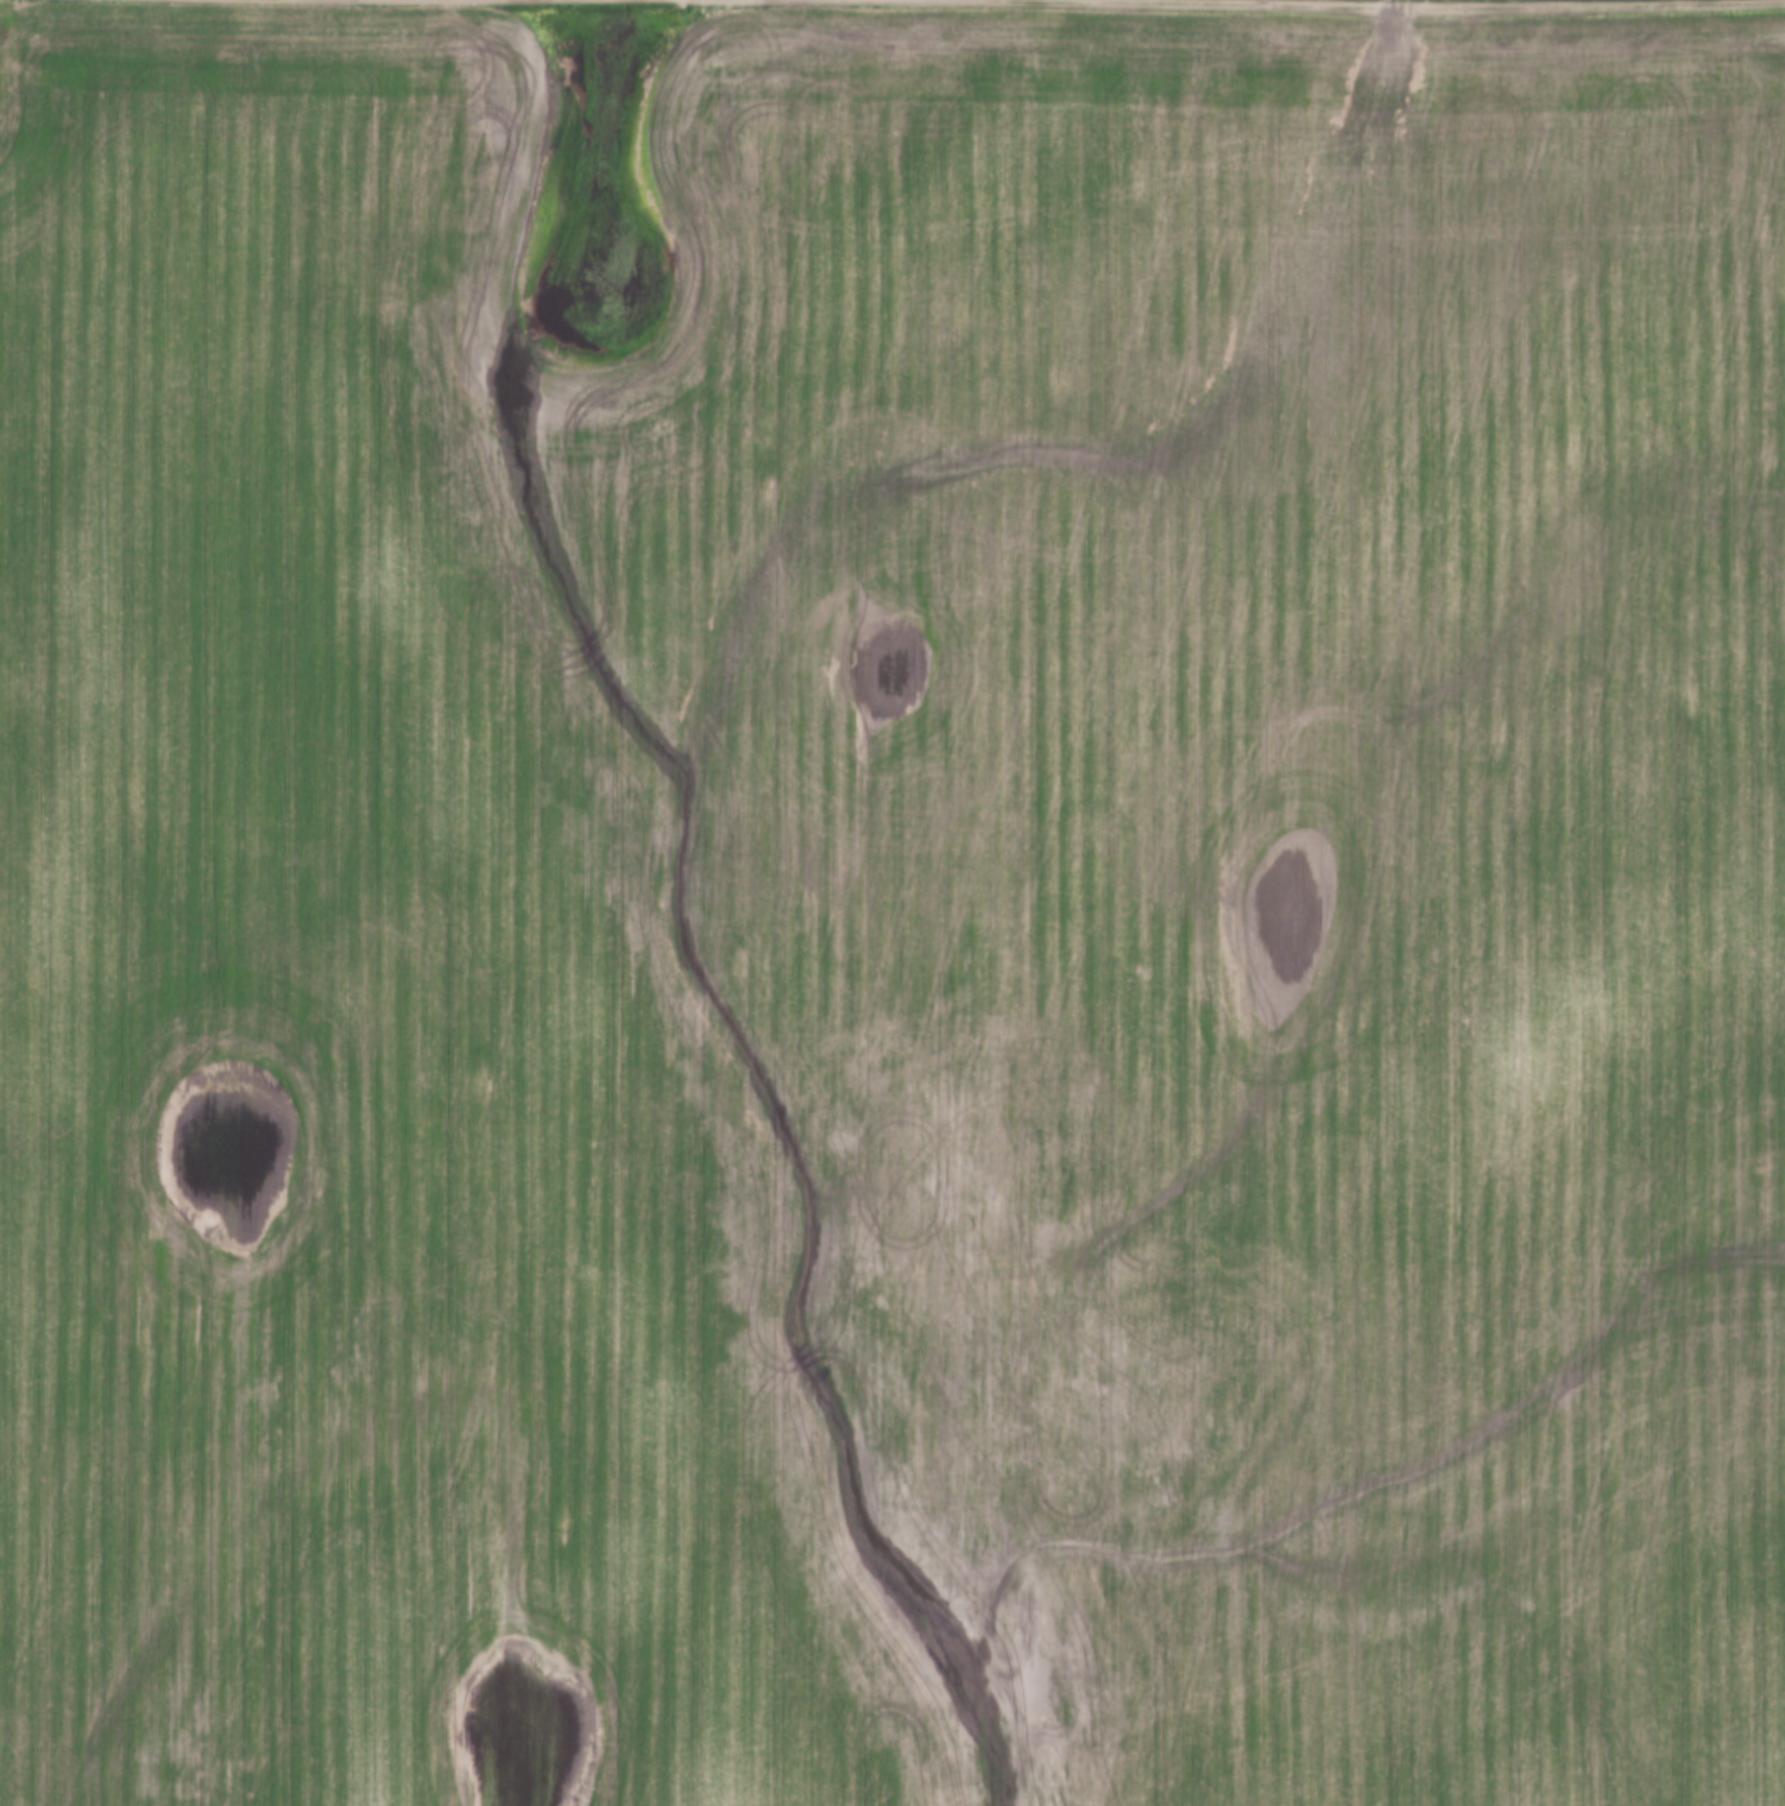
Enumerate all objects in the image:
road: (315, 0)
road: (1382, 1)

